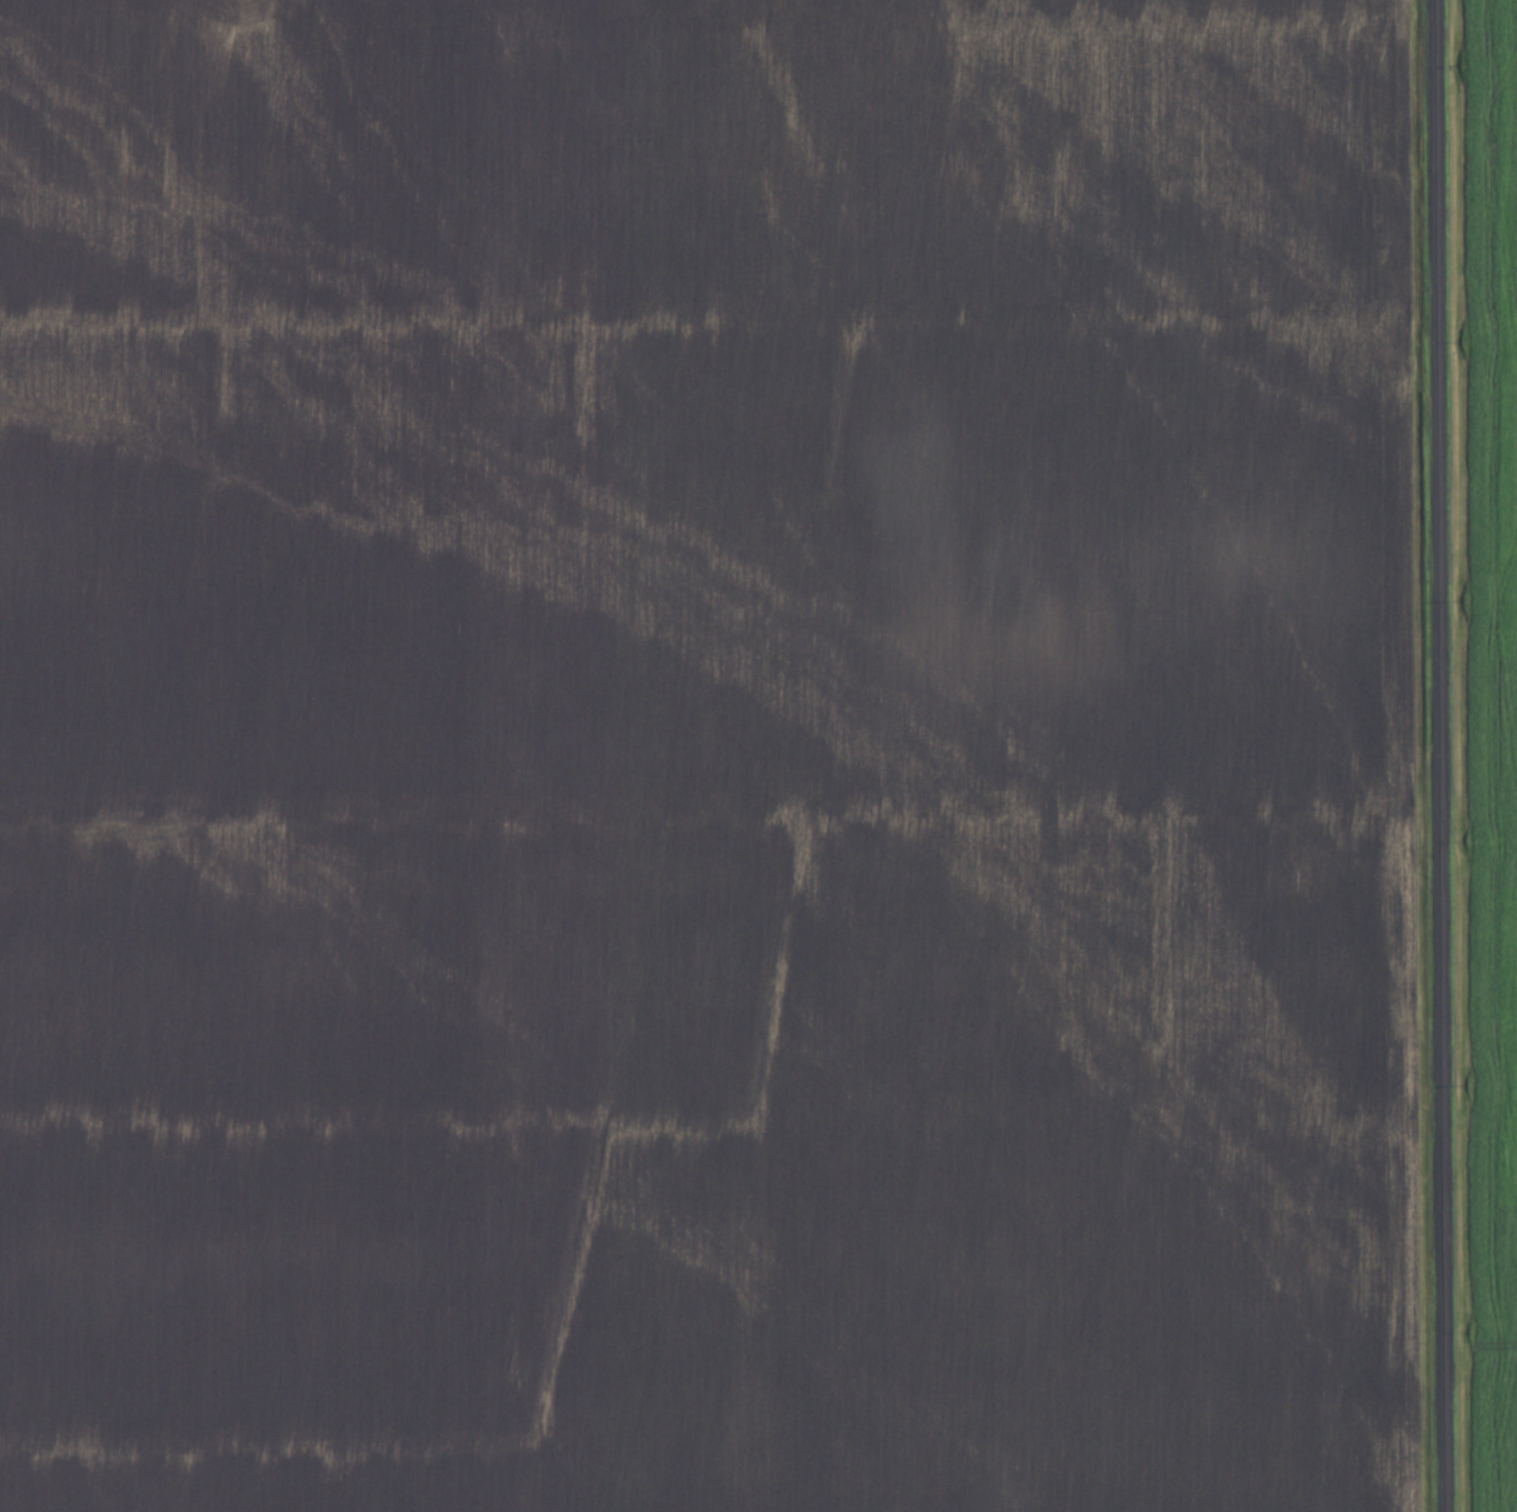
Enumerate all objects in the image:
road: (1446, 755)

